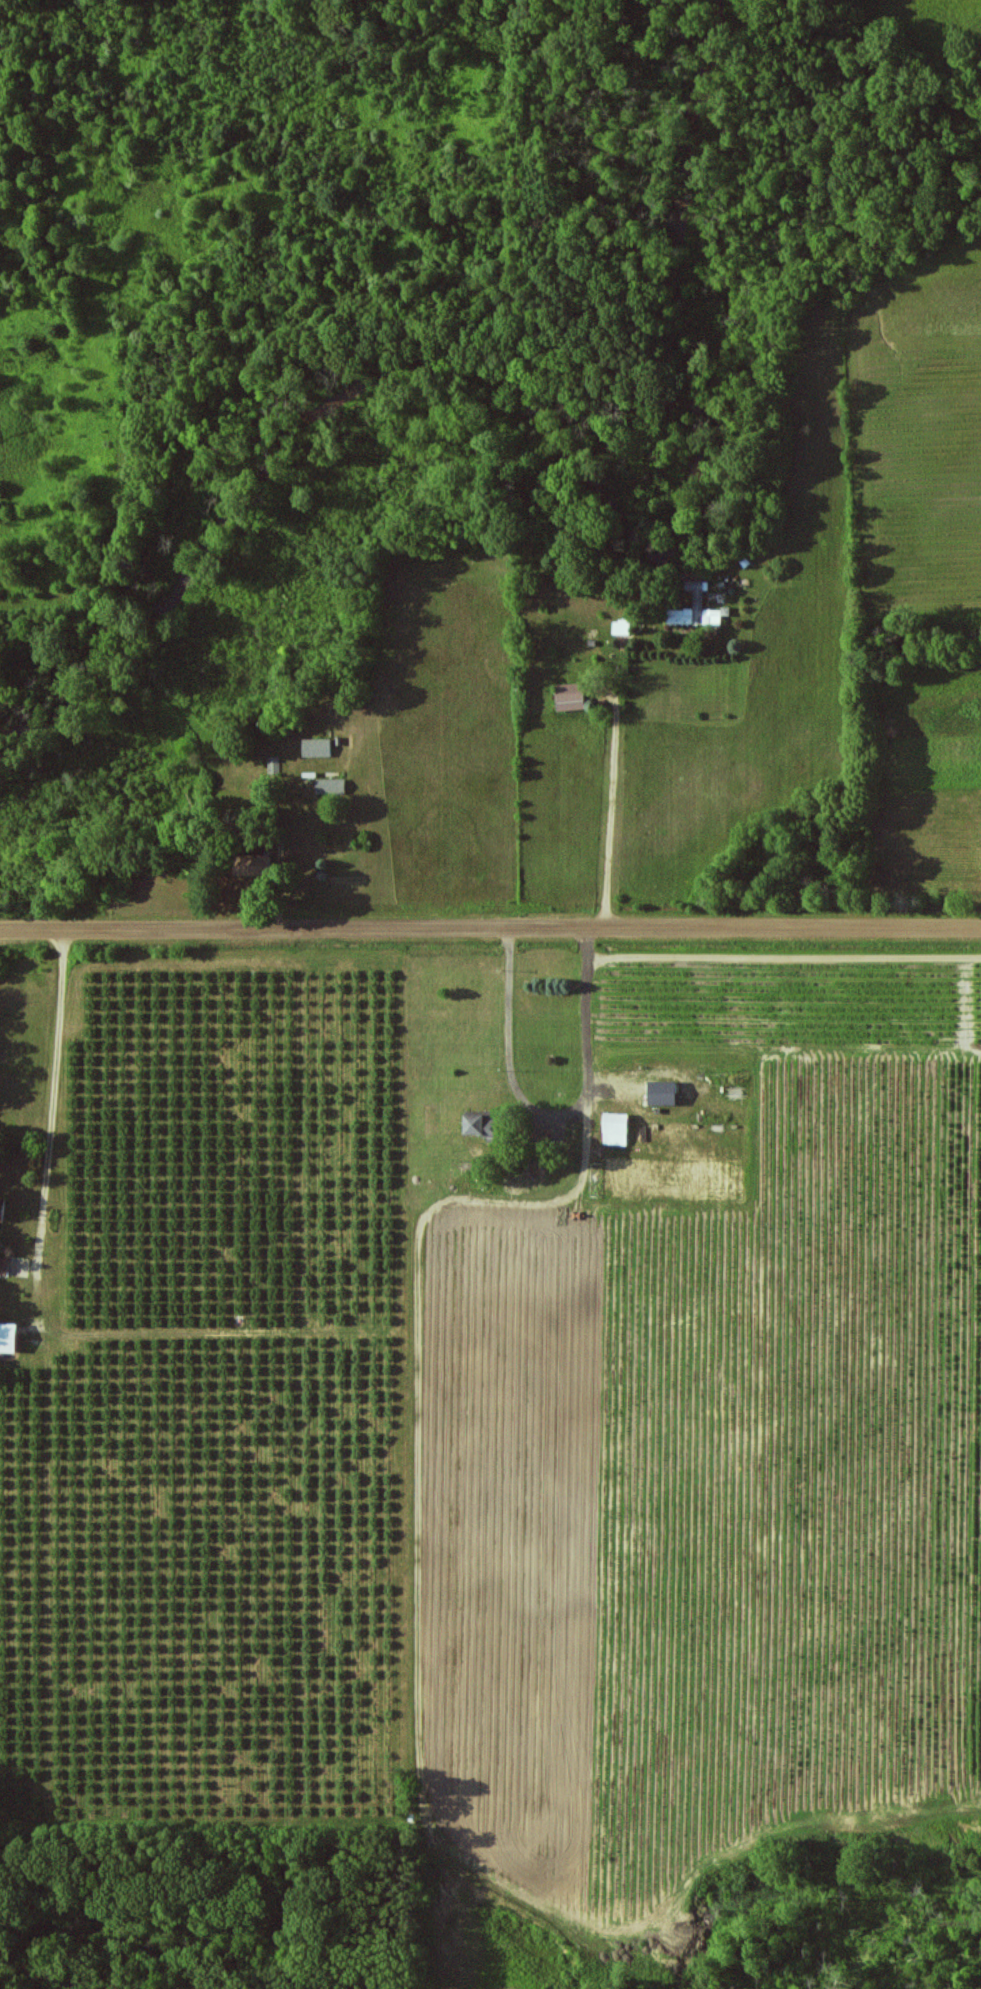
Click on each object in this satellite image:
building: (696, 608)
building: (622, 627)
building: (570, 696)
building: (317, 747)
building: (274, 764)
building: (331, 786)
road: (612, 815)
building: (254, 864)
road: (490, 929)
building: (664, 1092)
road: (57, 1112)
road: (553, 1115)
building: (476, 1123)
building: (616, 1128)
building: (3, 1209)
building: (4, 1264)
building: (9, 1337)

